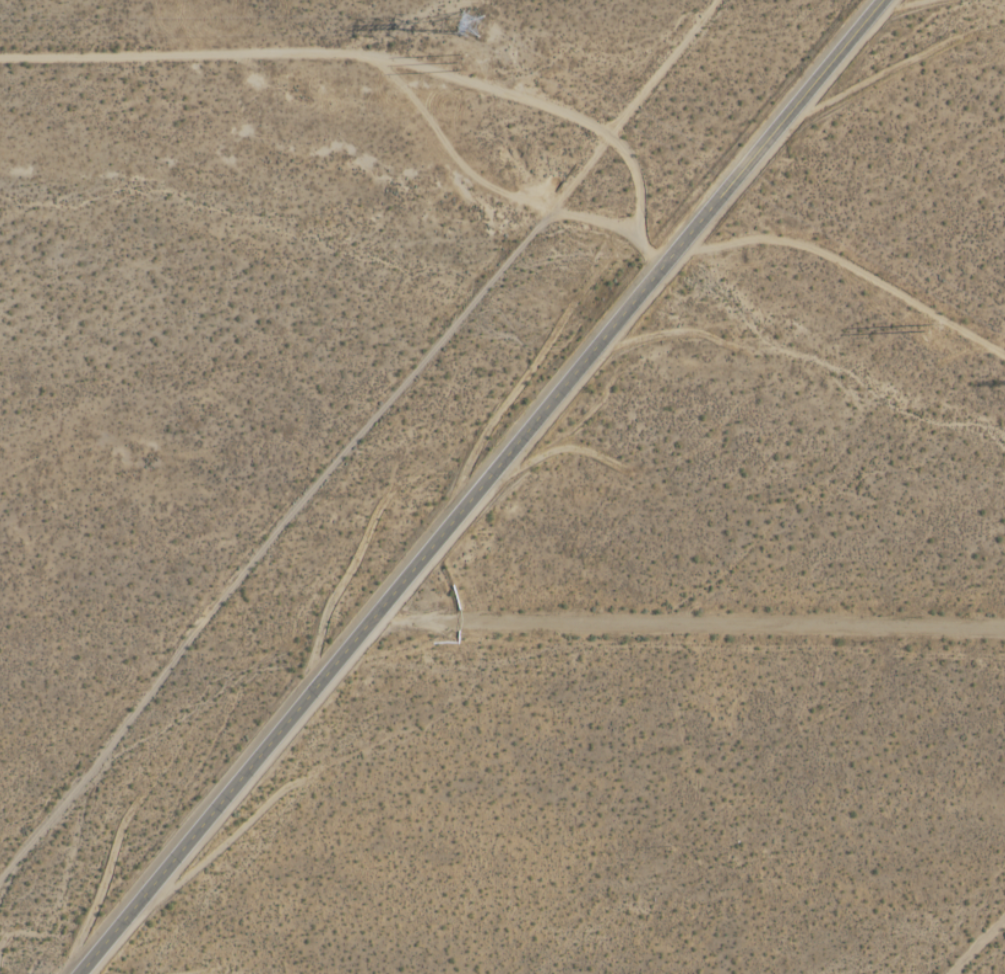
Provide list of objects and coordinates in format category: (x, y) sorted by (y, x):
power tower: (473, 22)
power tower: (466, 61)
road: (538, 106)
road: (473, 176)
road: (844, 264)
power tower: (927, 325)
road: (482, 486)
road: (693, 619)

